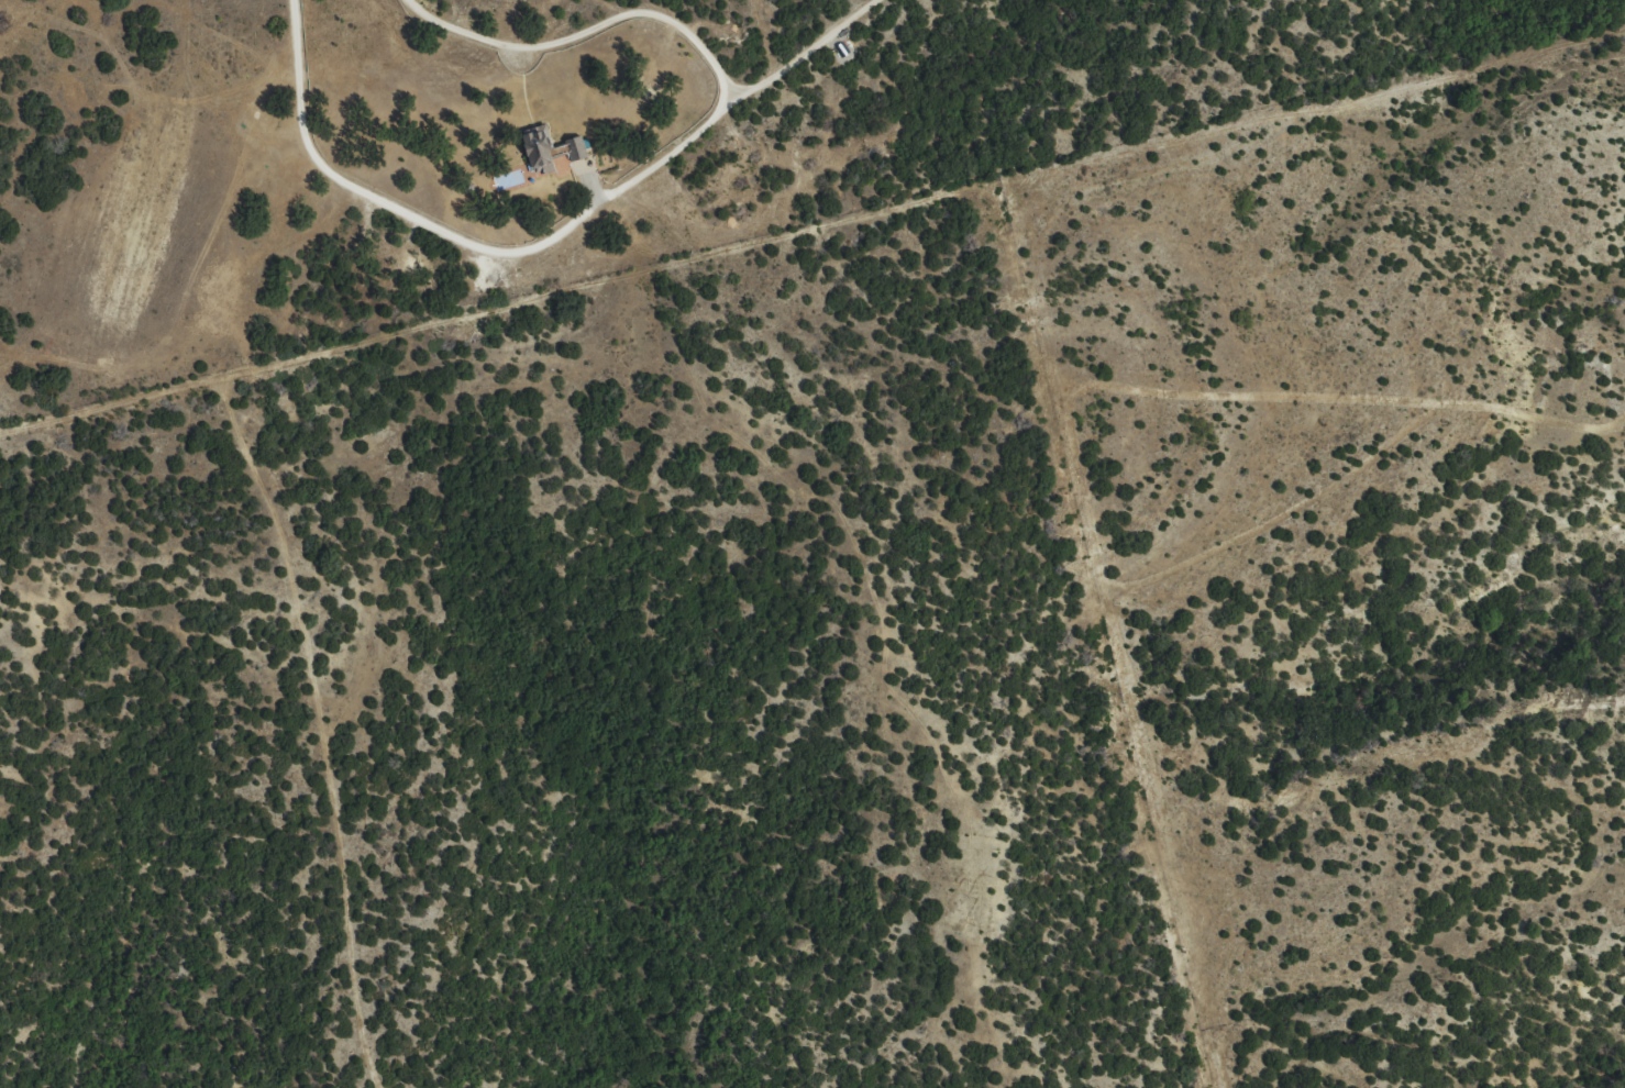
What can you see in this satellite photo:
building: (537, 168)
road: (623, 186)
road: (1024, 322)

